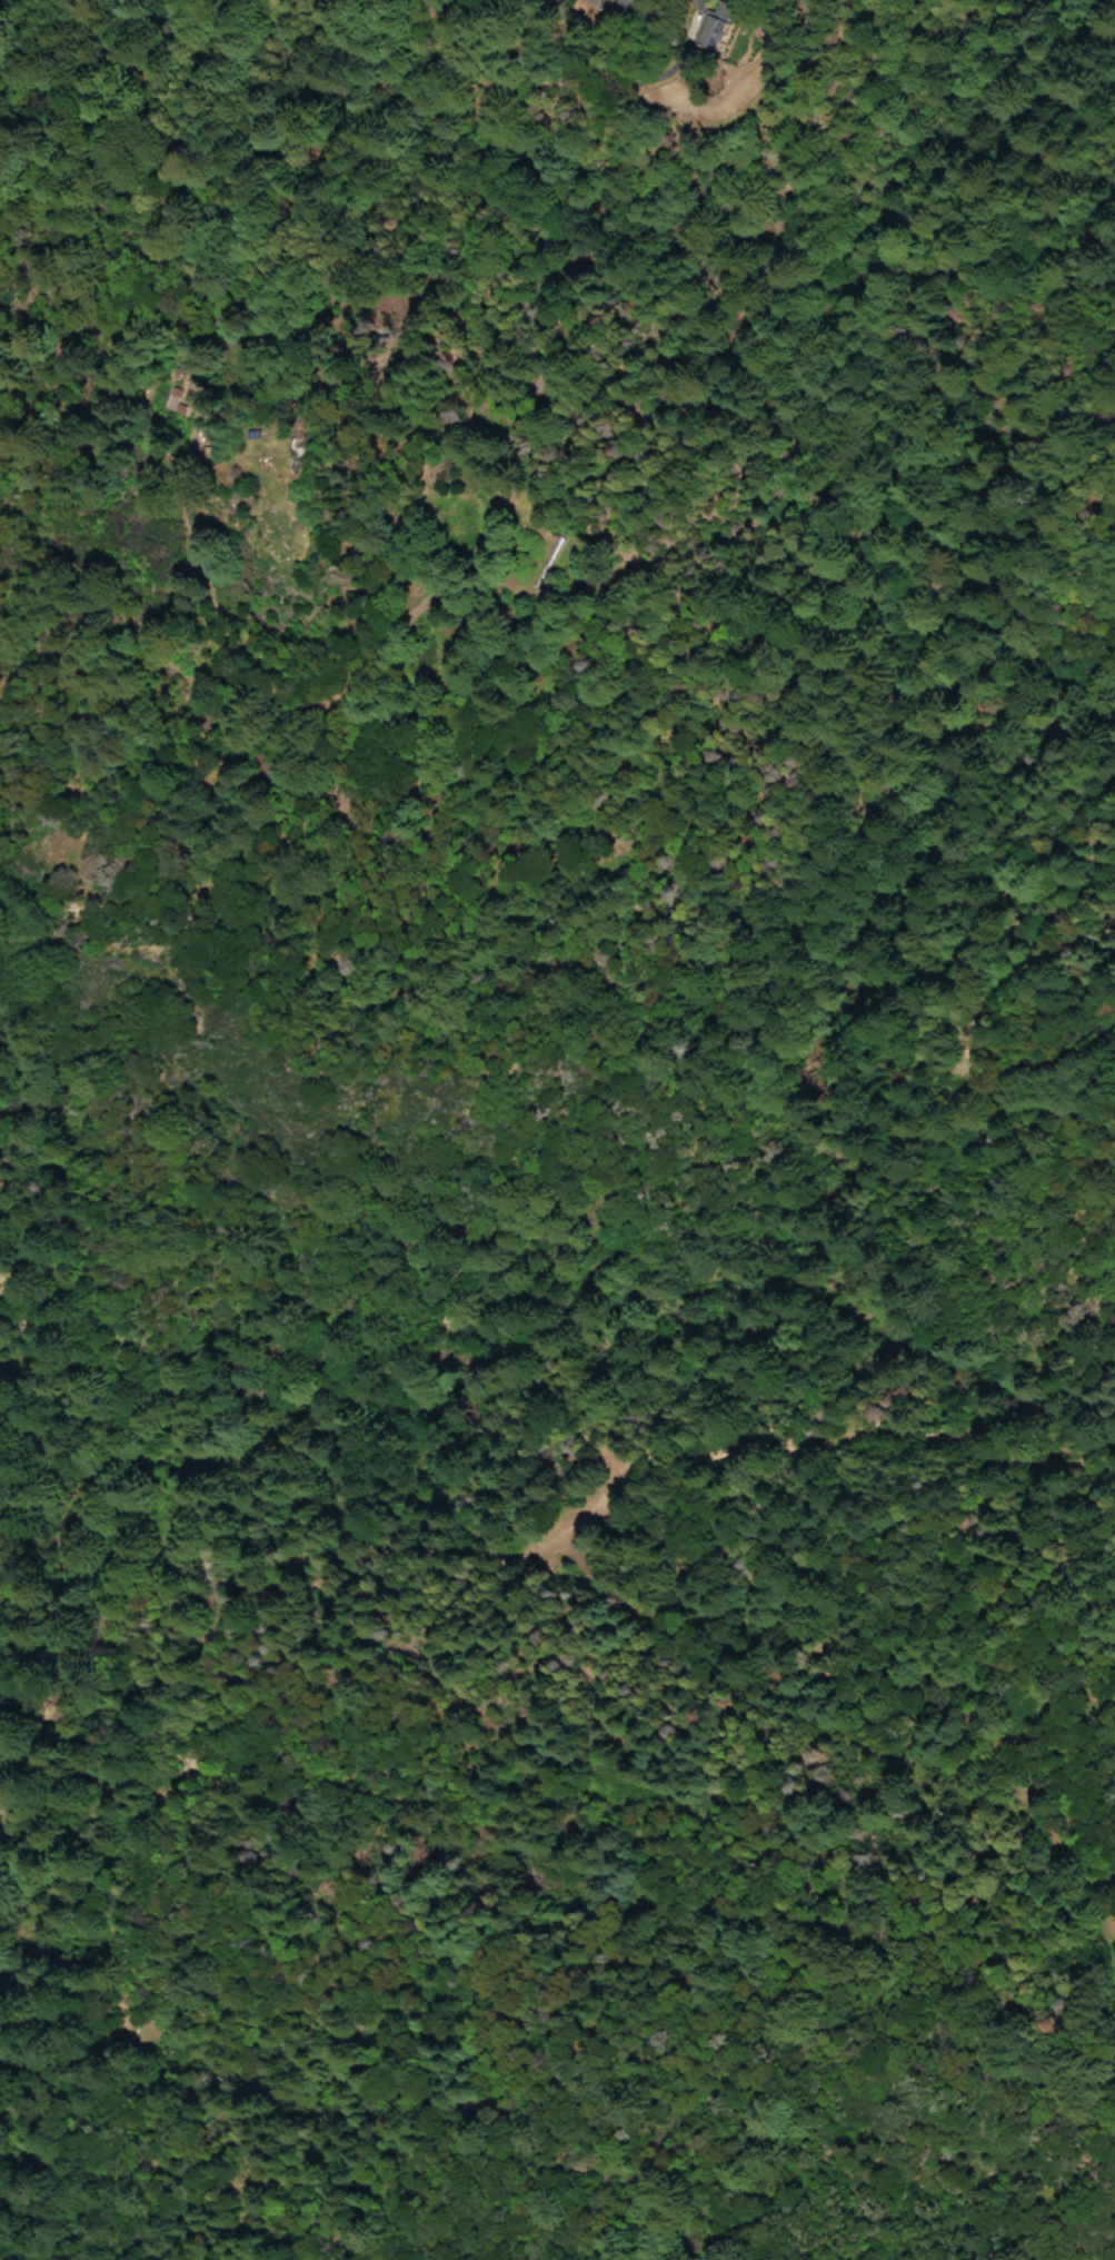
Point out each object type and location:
building: (715, 24)
building: (163, 380)
road: (696, 1456)
road: (546, 1572)
road: (1114, 1933)

